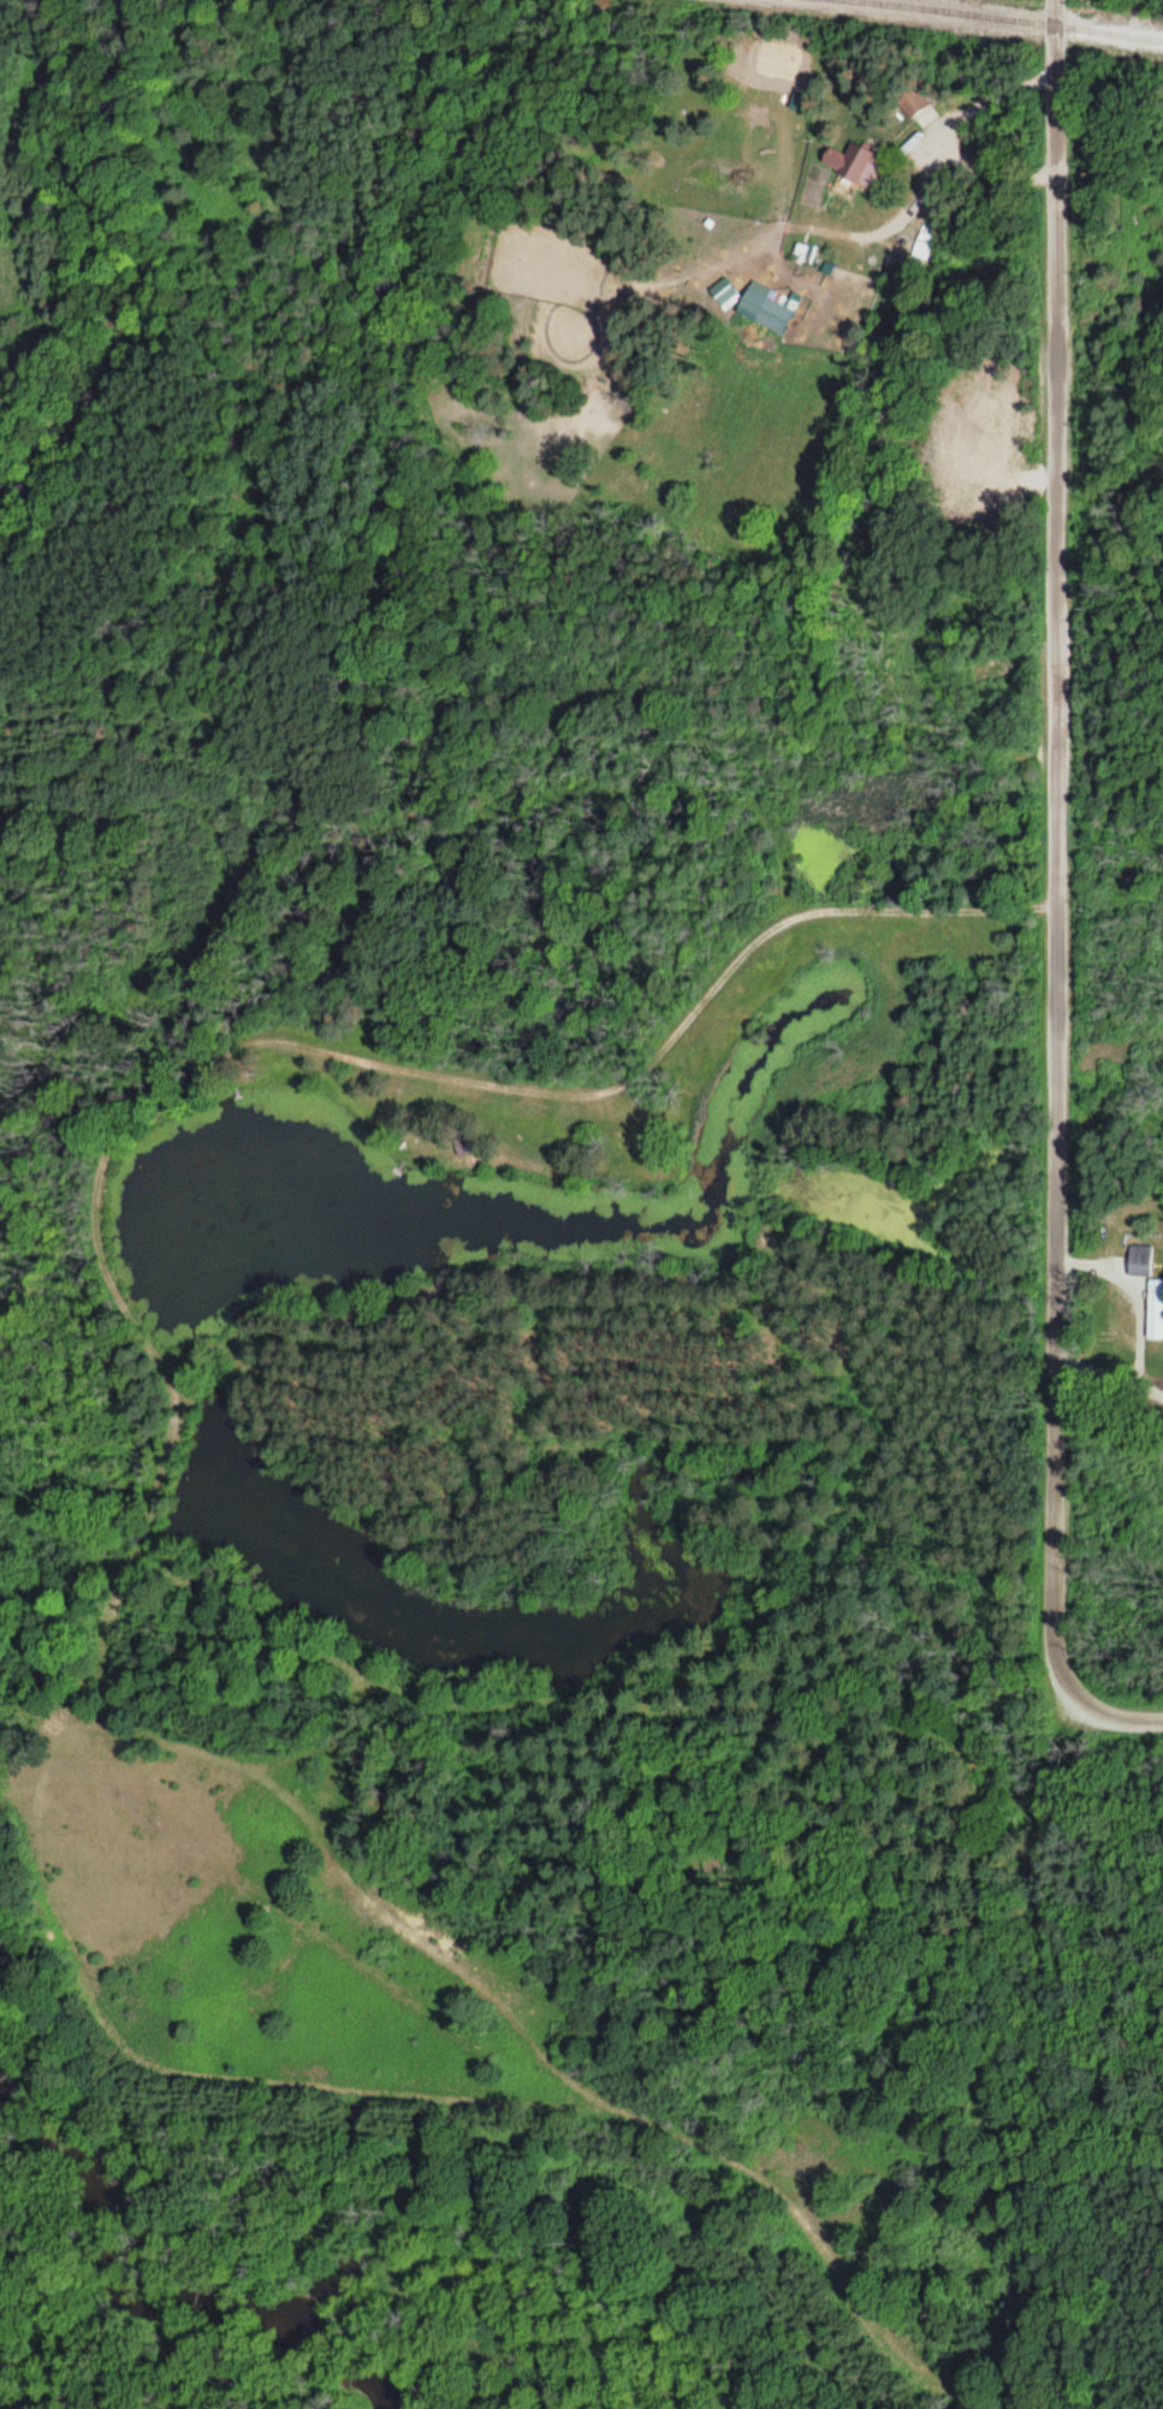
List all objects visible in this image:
railway: (1002, 17)
building: (910, 99)
building: (852, 164)
building: (724, 292)
building: (766, 307)
road: (1037, 841)
building: (1140, 1265)
building: (1155, 1309)
road: (1085, 1720)

